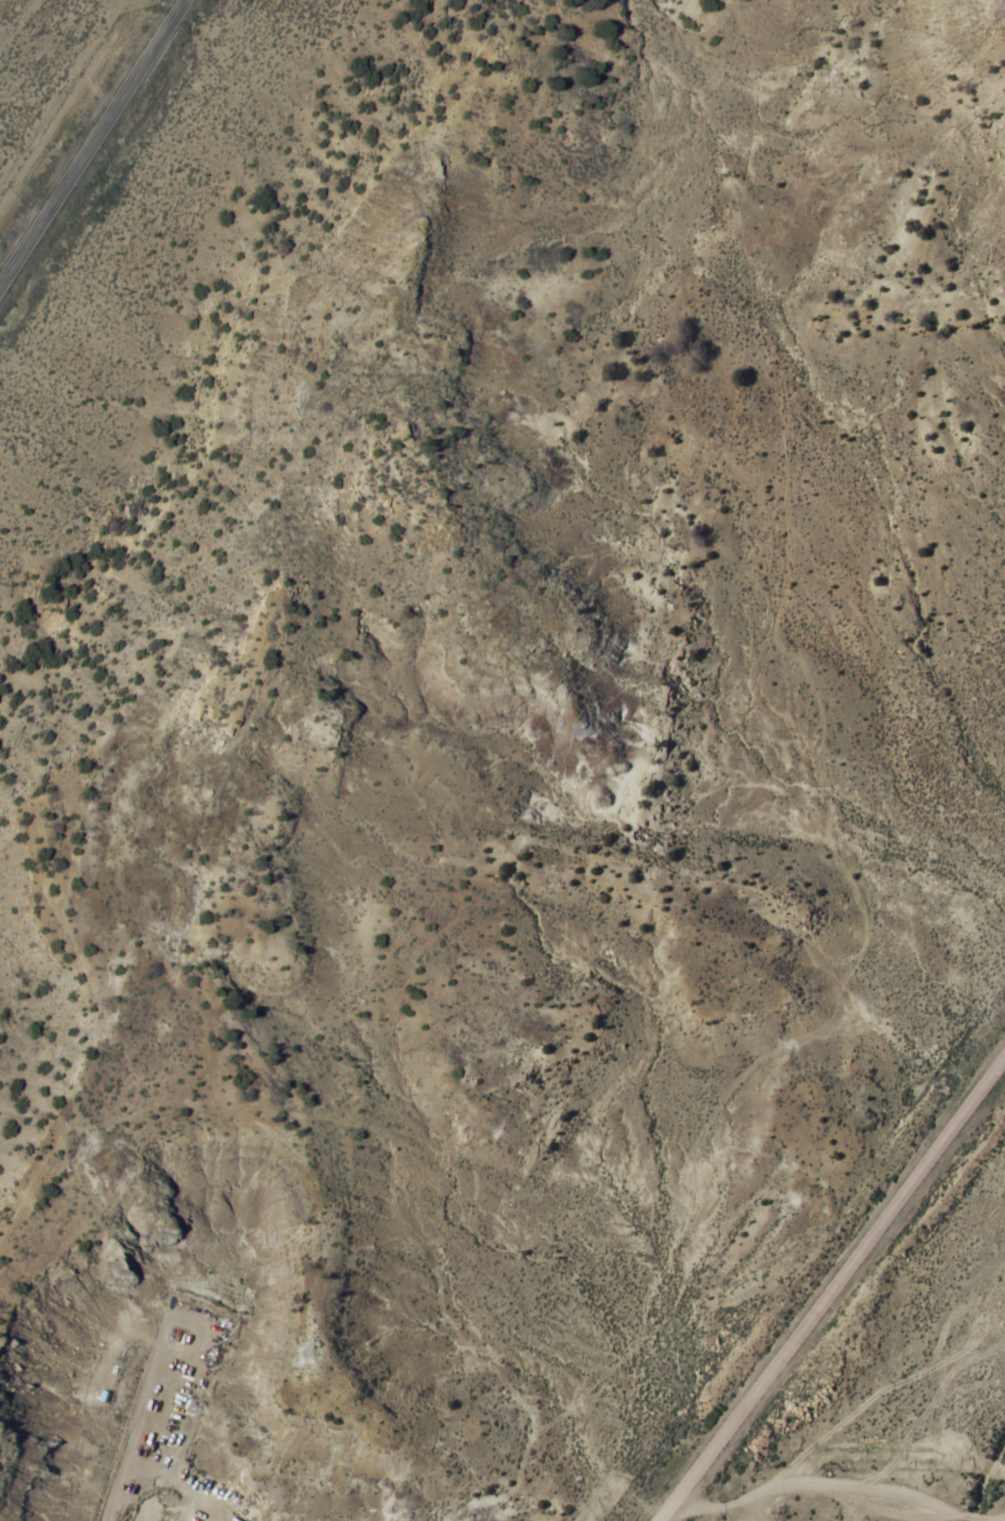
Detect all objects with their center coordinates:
road: (87, 140)
road: (832, 1293)
road: (912, 1506)
road: (1002, 1509)
road: (998, 1515)

